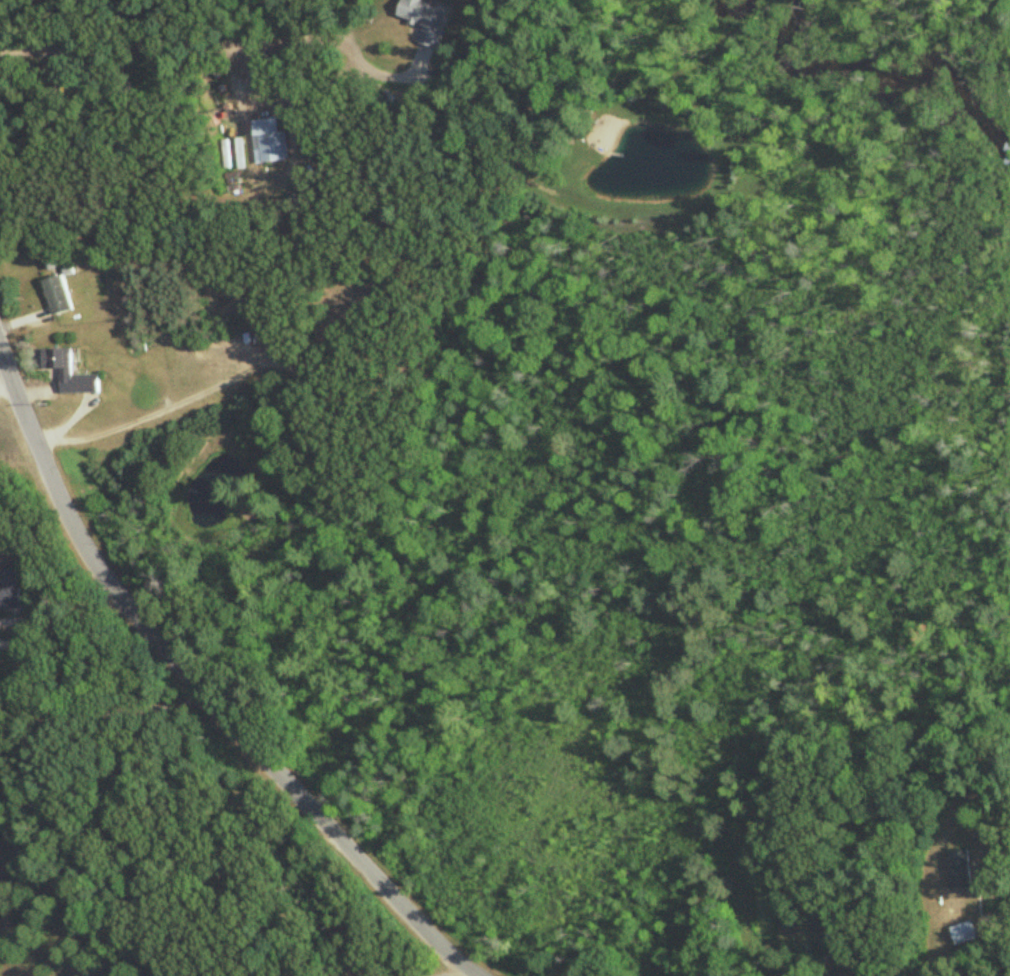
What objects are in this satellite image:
building: (425, 19)
road: (171, 45)
building: (272, 147)
building: (57, 295)
building: (69, 372)
road: (6, 378)
road: (154, 411)
building: (10, 588)
road: (62, 618)
road: (199, 689)
road: (100, 714)
building: (960, 870)
building: (836, 923)
building: (965, 933)
road: (447, 970)
building: (789, 974)

